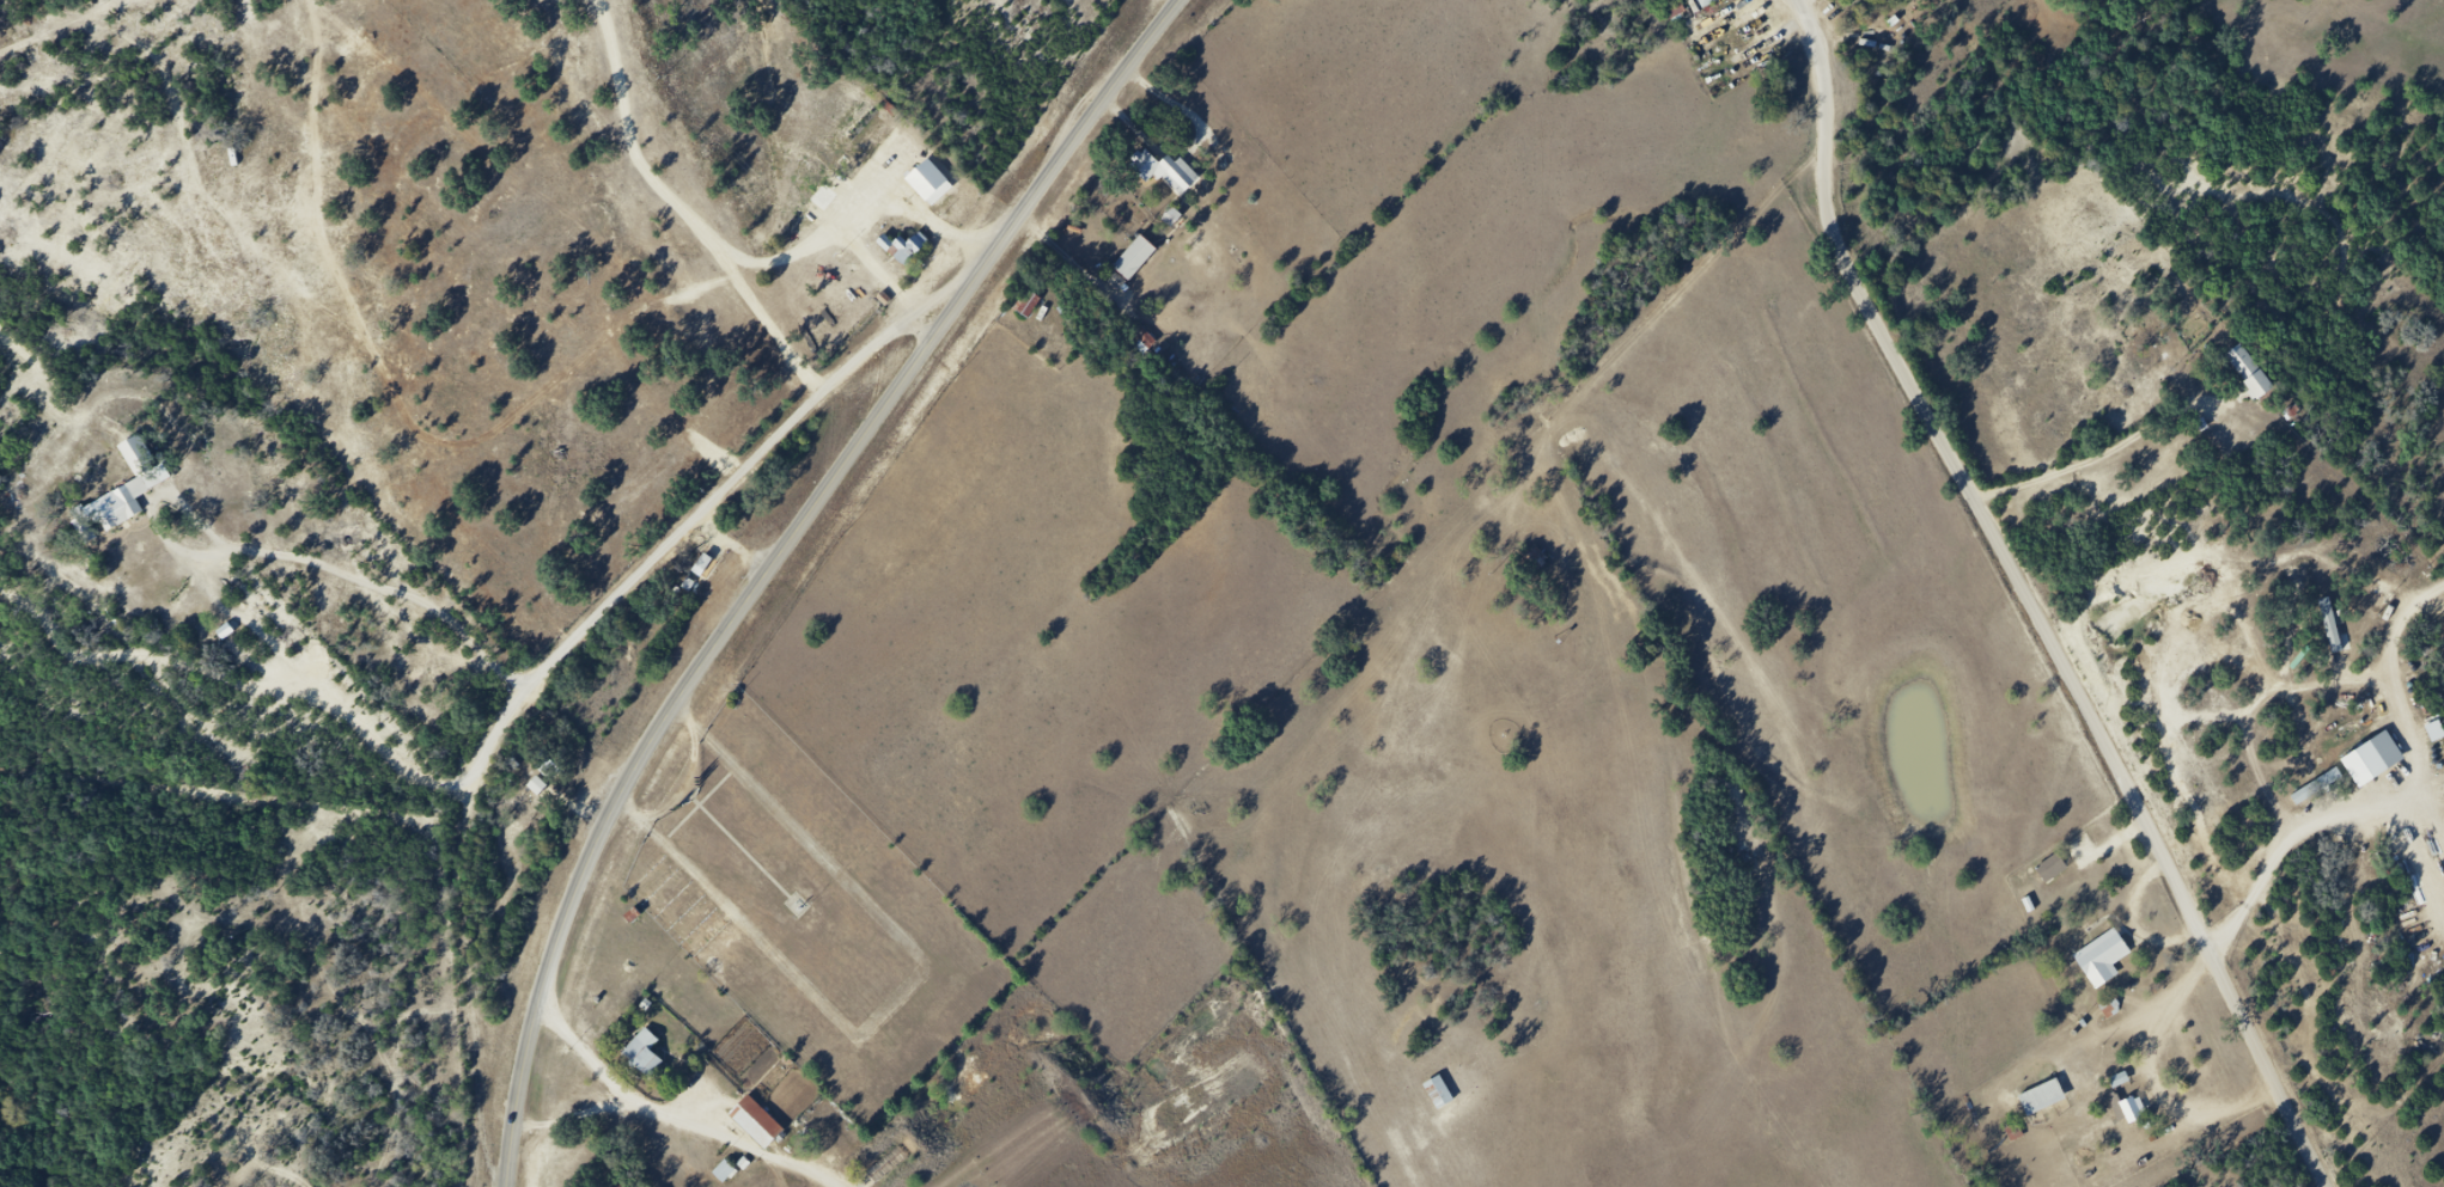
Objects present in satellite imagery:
building: (1706, 2)
building: (1873, 2)
building: (1172, 173)
building: (906, 240)
building: (1141, 264)
building: (2249, 372)
building: (133, 492)
road: (785, 562)
building: (702, 568)
road: (2038, 602)
building: (2102, 957)
building: (644, 1053)
building: (2079, 1079)
building: (1439, 1093)
building: (2131, 1110)
building: (756, 1122)
building: (725, 1171)

